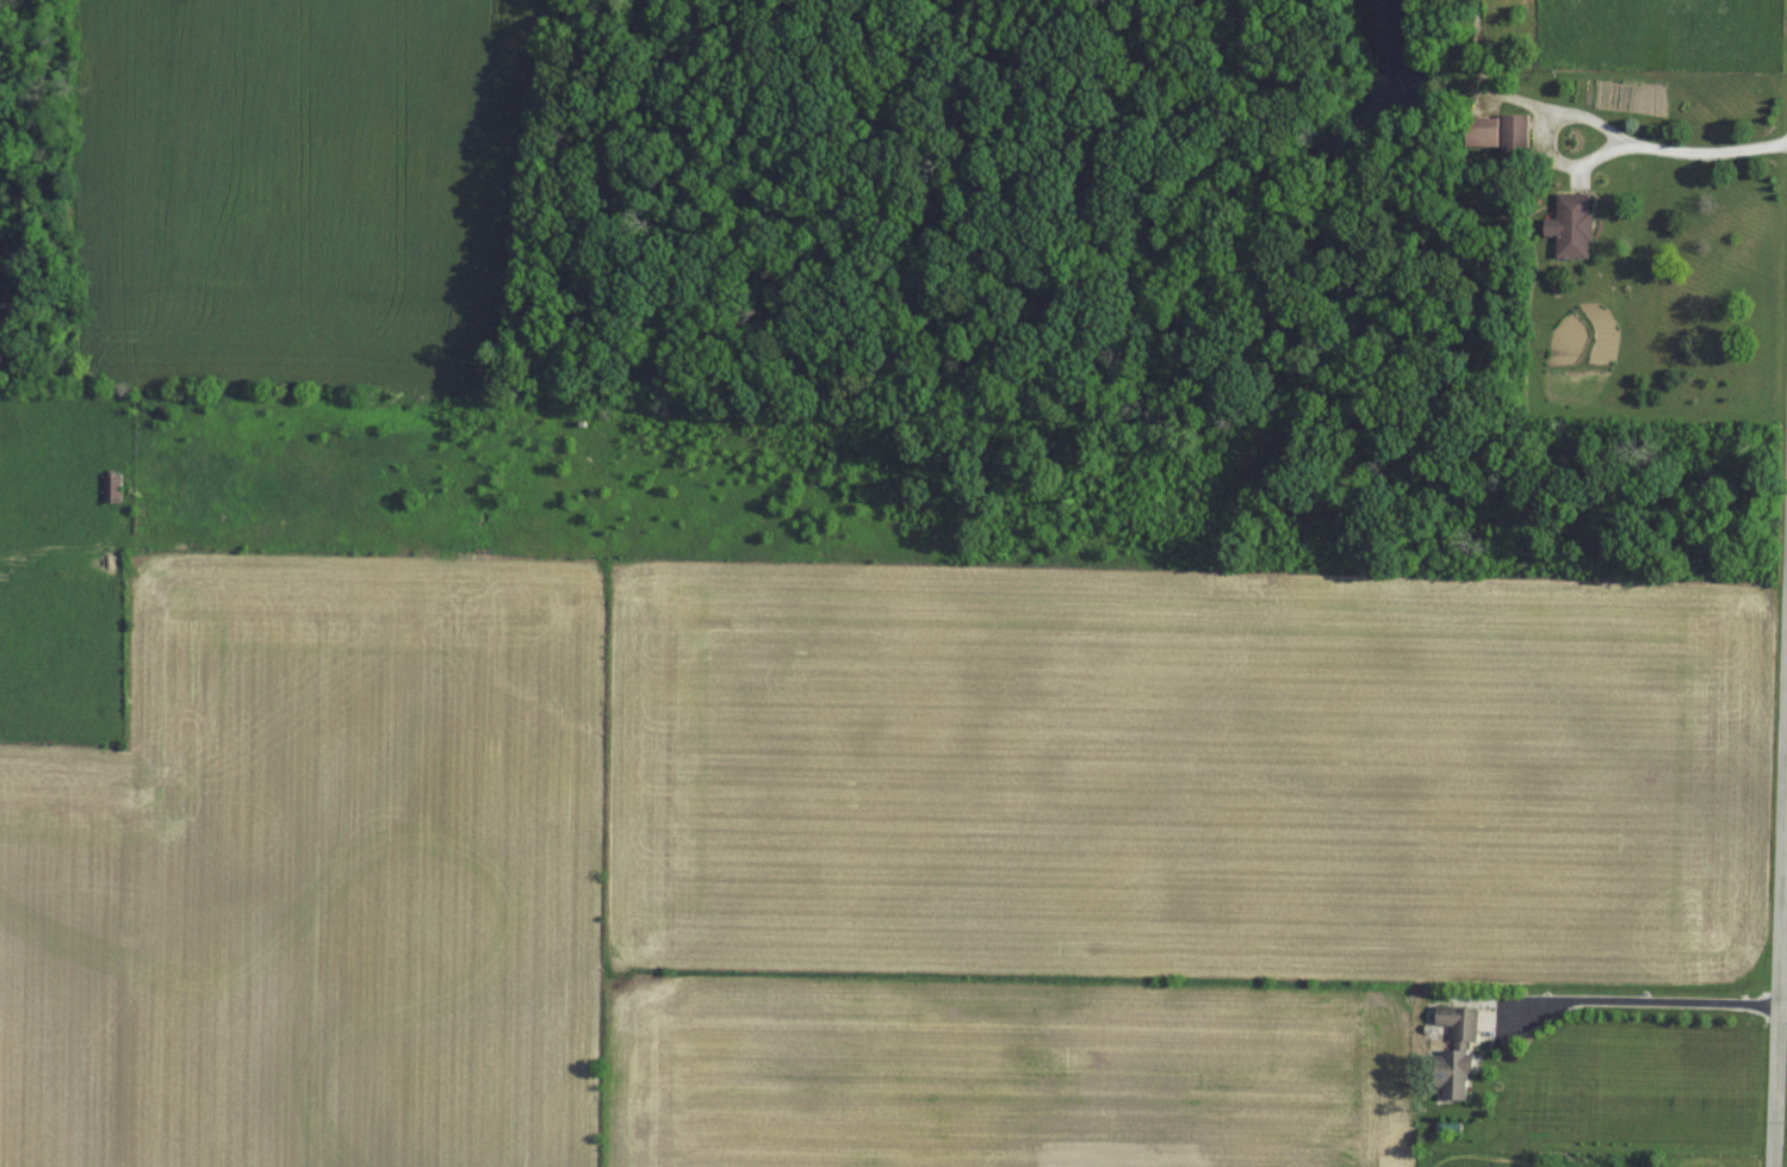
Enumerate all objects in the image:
road: (1607, 131)
road: (1775, 594)
road: (1626, 1001)
building: (1462, 1045)

